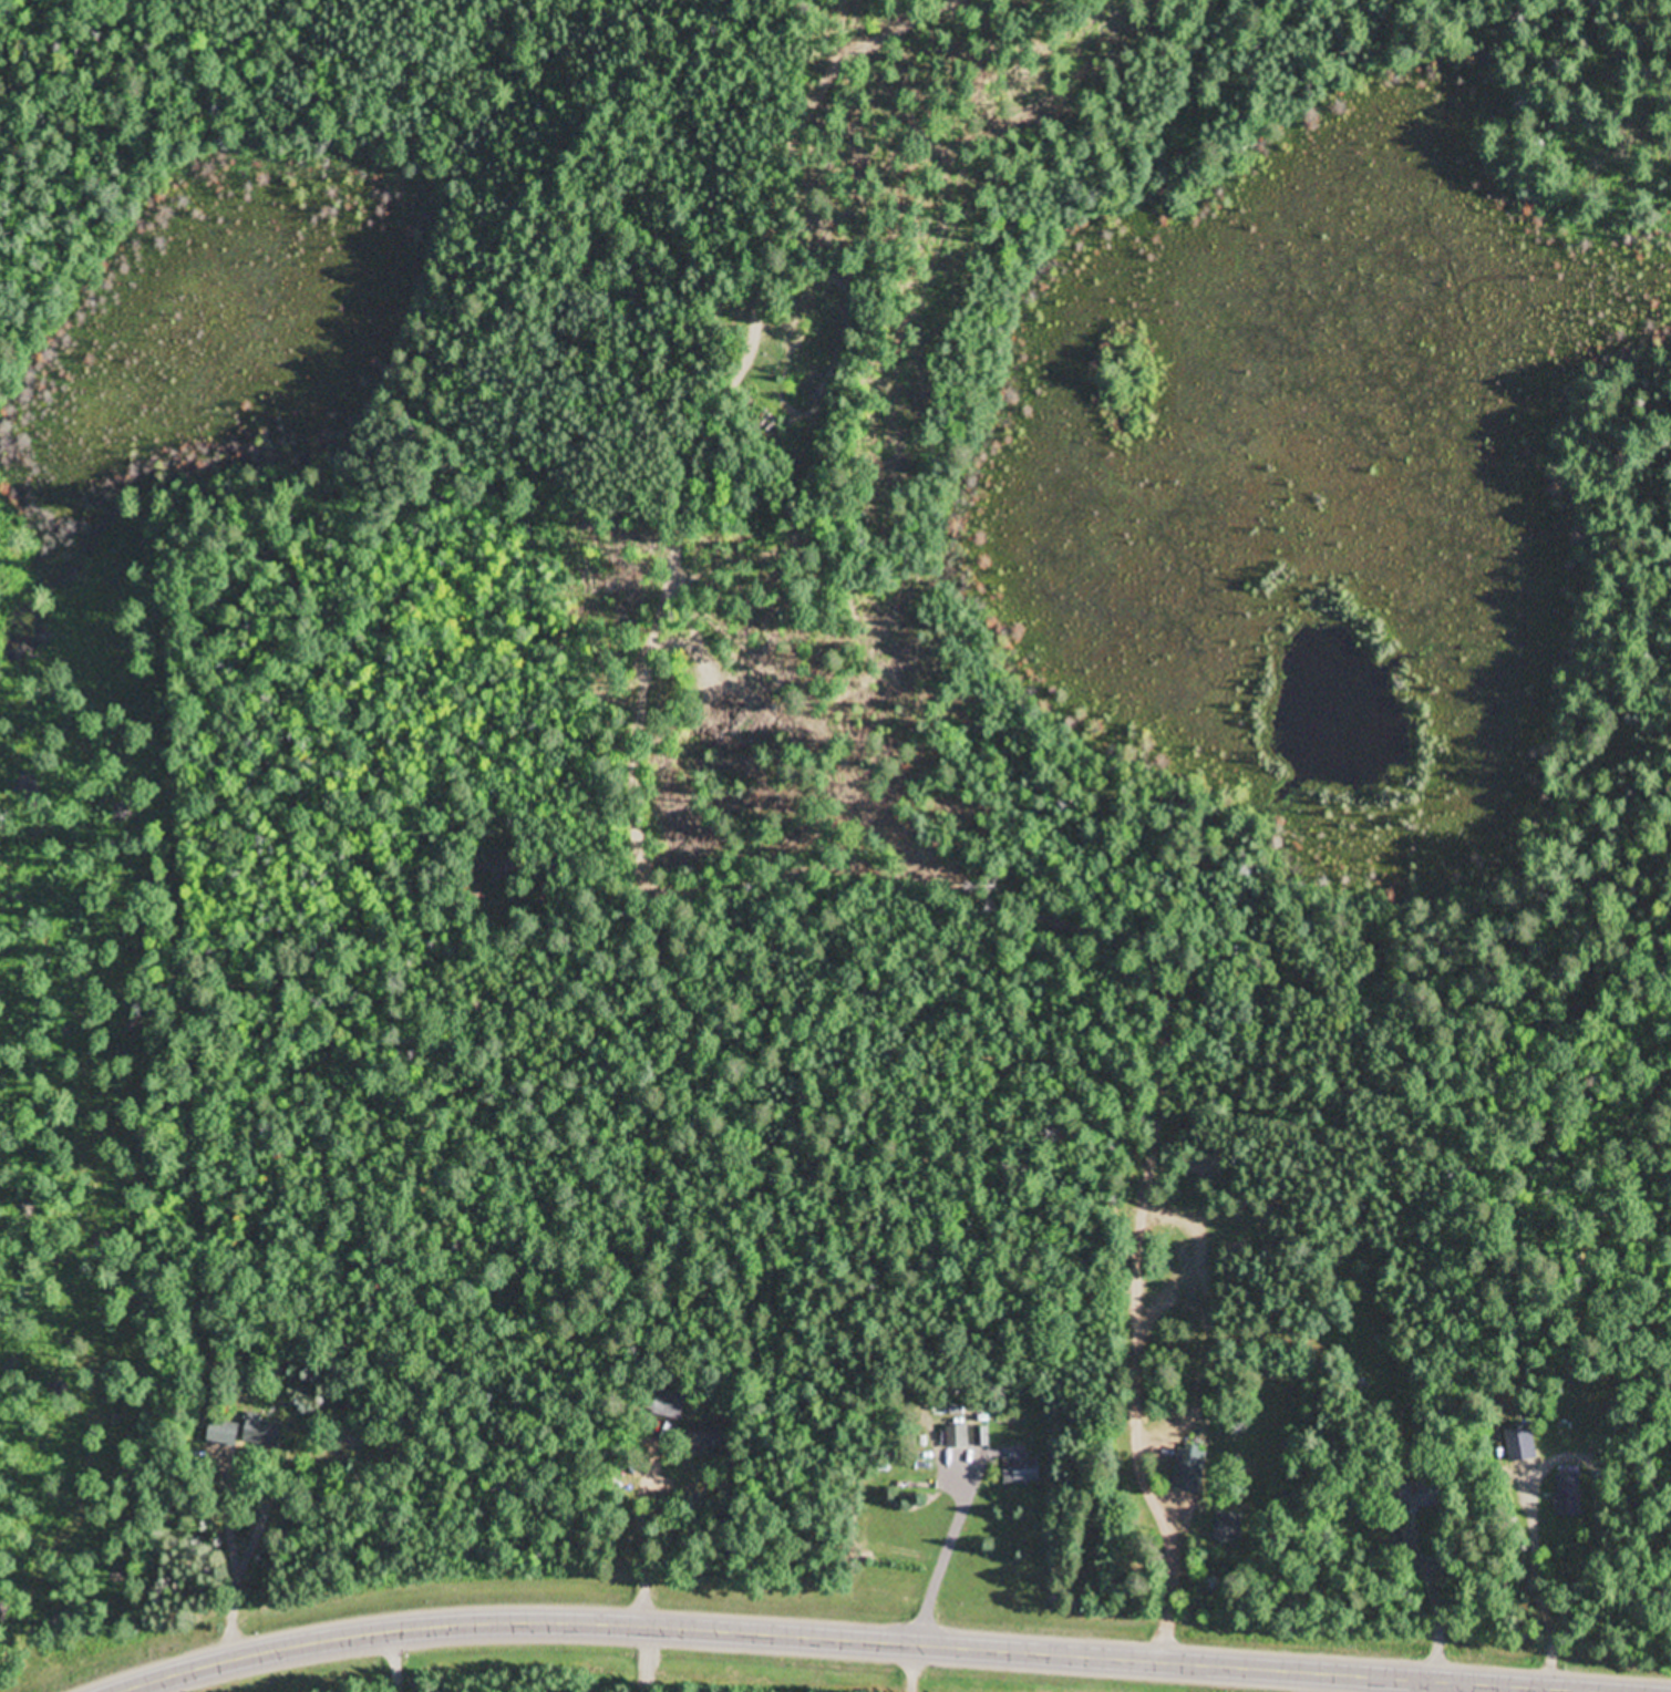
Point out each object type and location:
building: (667, 1405)
building: (245, 1431)
building: (962, 1437)
building: (1022, 1469)
building: (1189, 1474)
road: (257, 1476)
road: (642, 1527)
road: (942, 1552)
road: (1541, 1579)
road: (1166, 1580)
road: (762, 1582)
road: (1433, 1599)
road: (842, 1641)
road: (642, 1659)
road: (389, 1662)
road: (687, 1664)
road: (910, 1669)
road: (1308, 1683)
road: (162, 1685)
road: (1465, 1689)

